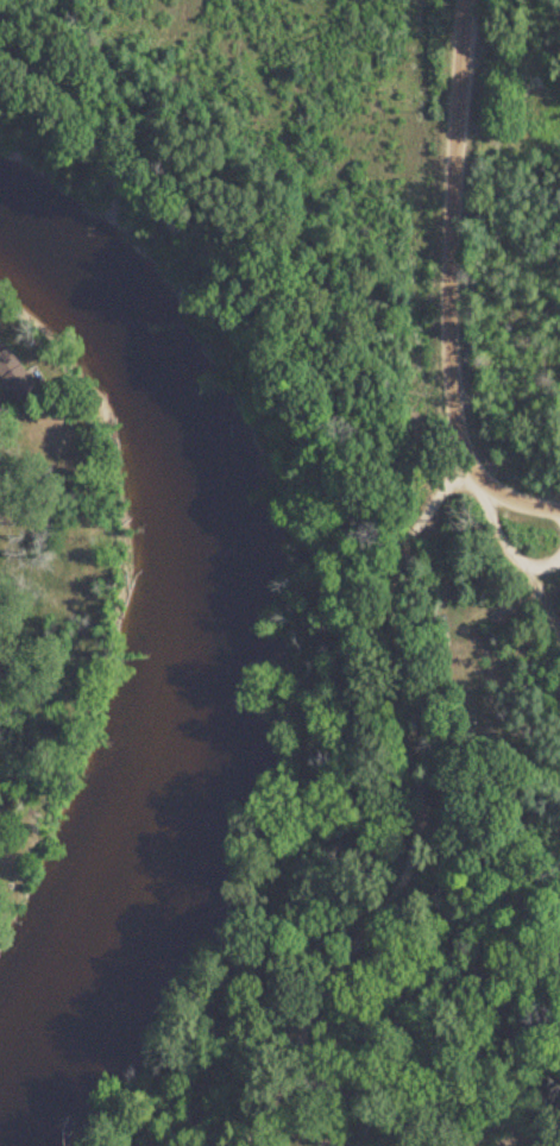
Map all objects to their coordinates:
road: (447, 235)
road: (506, 497)
road: (505, 549)
road: (540, 606)
river: (199, 665)
road: (417, 819)

